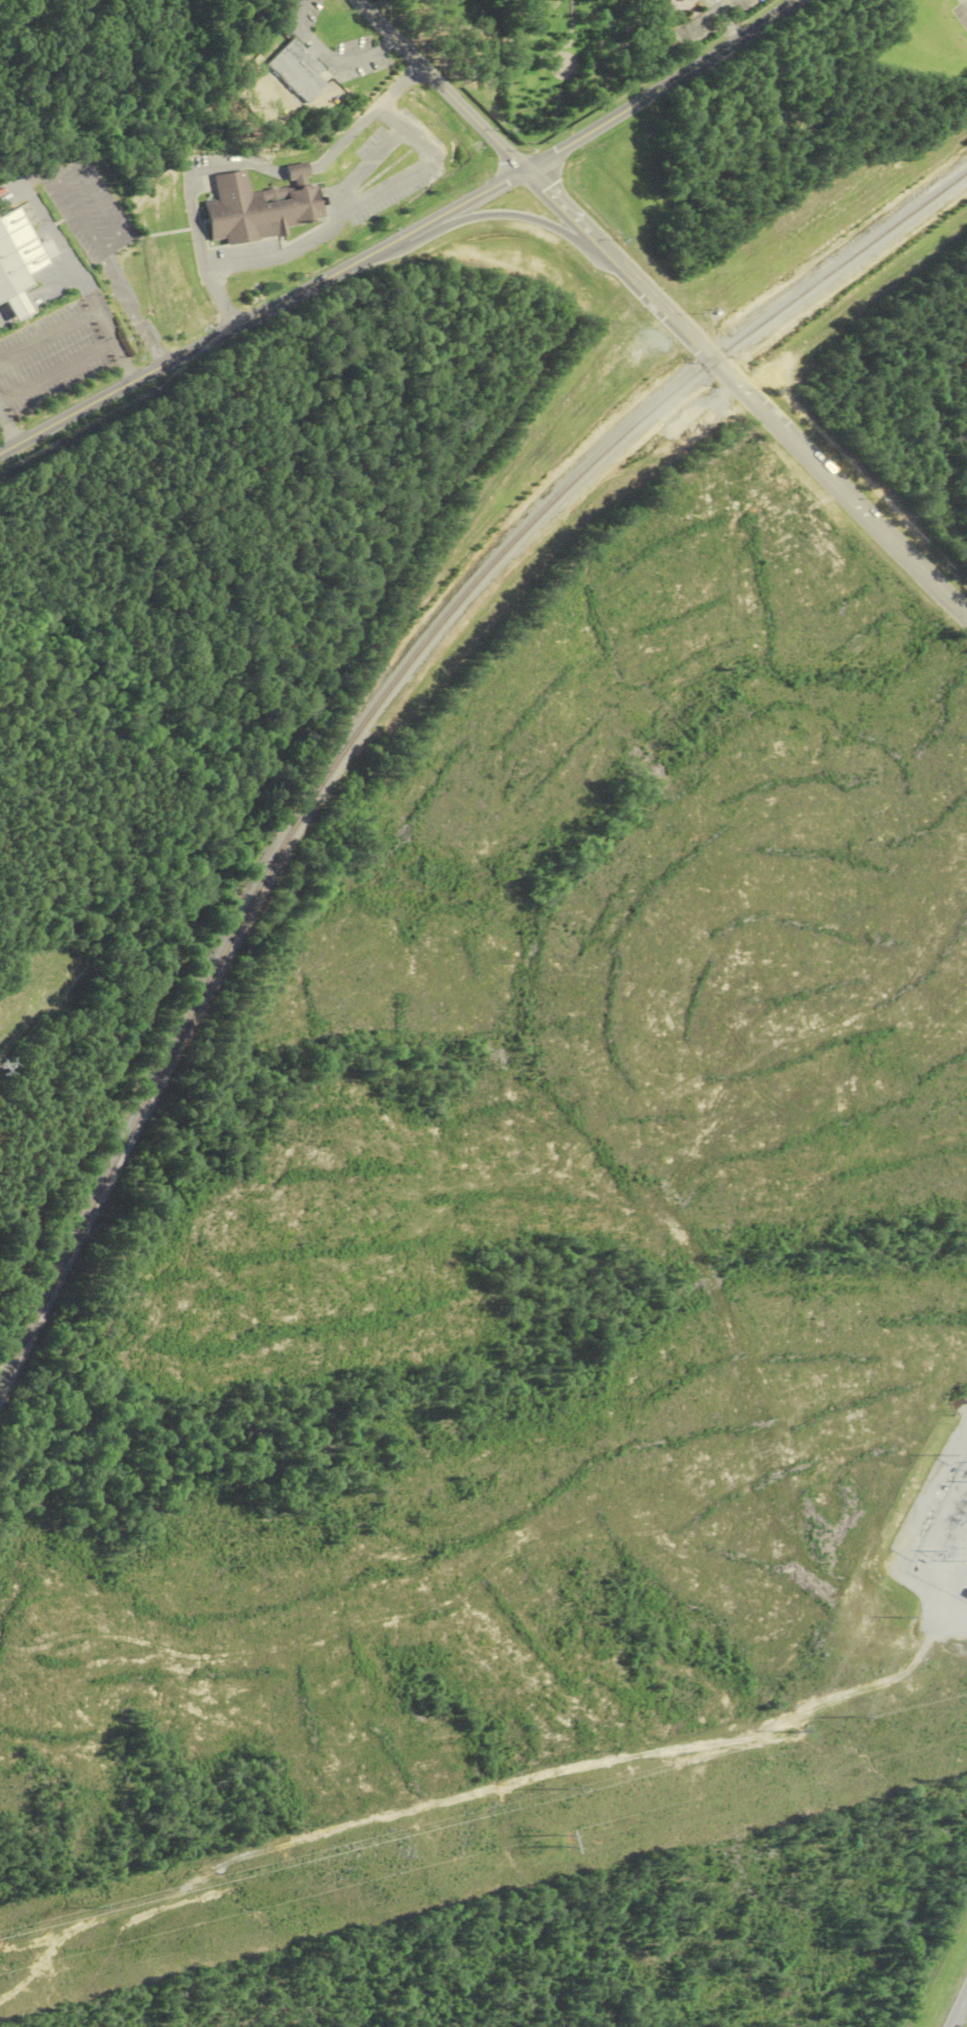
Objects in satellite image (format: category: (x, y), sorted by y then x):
building: (451, 3)
building: (299, 70)
road: (441, 84)
road: (36, 177)
road: (548, 195)
road: (355, 207)
road: (515, 216)
road: (50, 227)
road: (403, 236)
road: (112, 248)
building: (21, 261)
road: (54, 285)
road: (21, 303)
road: (133, 308)
road: (5, 313)
road: (105, 327)
road: (769, 417)
road: (9, 427)
railway: (383, 703)
power substation: (946, 1542)
power tower: (560, 1841)
road: (958, 2008)

